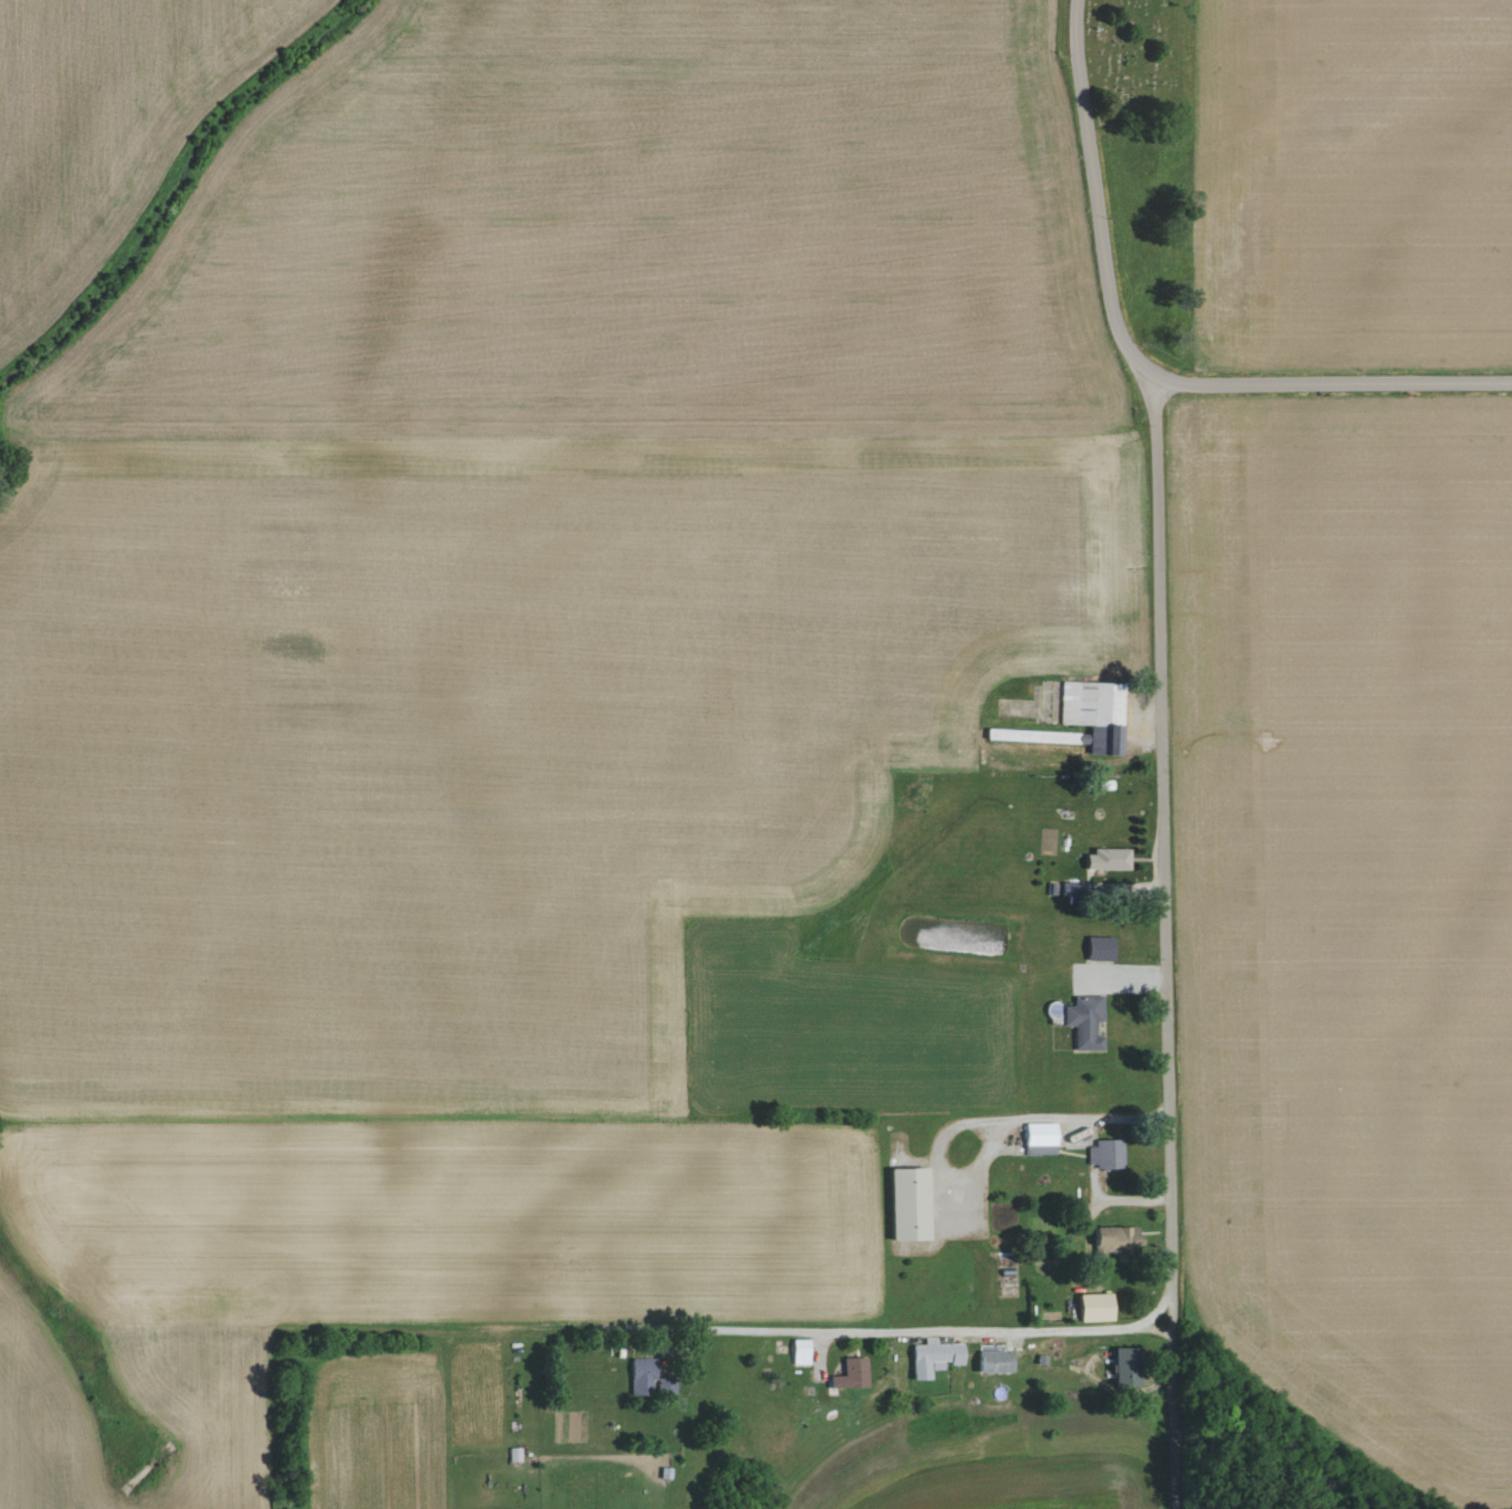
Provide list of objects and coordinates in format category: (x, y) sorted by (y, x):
road: (1334, 380)
building: (1093, 713)
road: (1163, 746)
building: (1102, 862)
building: (1096, 947)
building: (1083, 1021)
road: (989, 1121)
building: (1038, 1134)
building: (1103, 1153)
road: (1127, 1200)
building: (903, 1203)
building: (1113, 1238)
building: (1089, 1307)
road: (938, 1328)
building: (798, 1351)
building: (993, 1361)
building: (1121, 1364)
building: (850, 1373)
building: (641, 1375)
building: (668, 1386)
building: (514, 1454)

